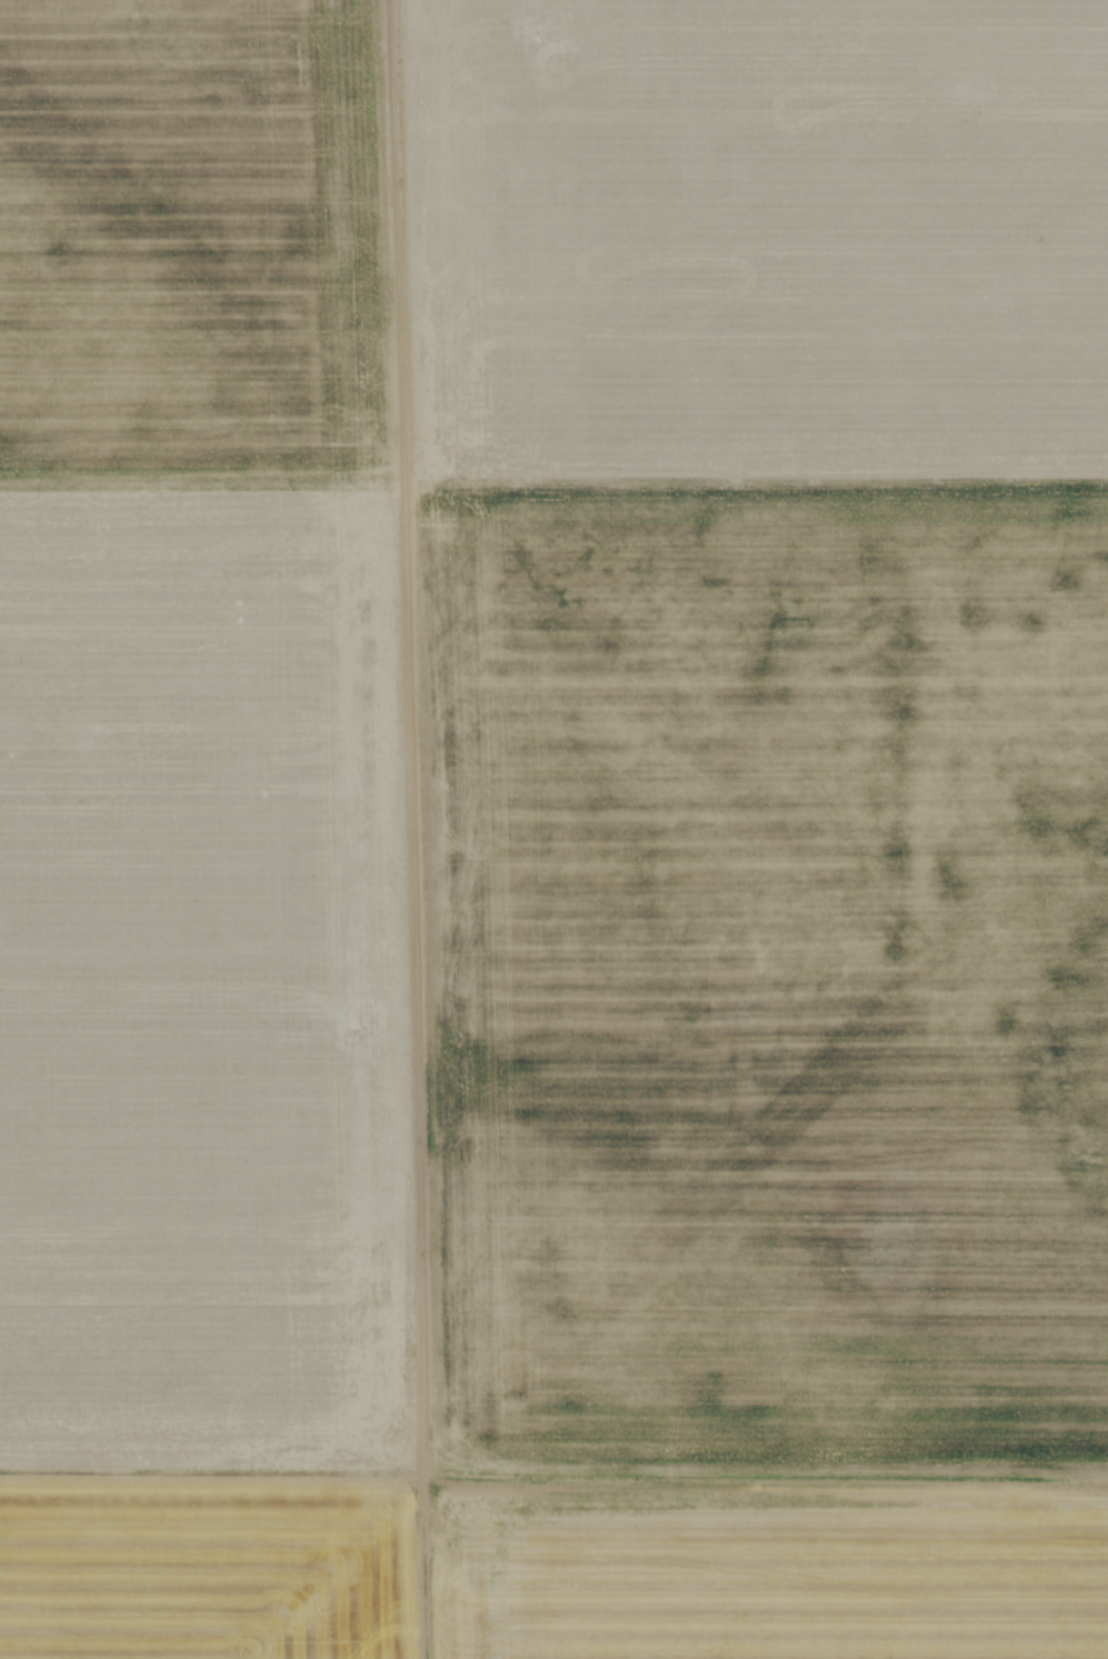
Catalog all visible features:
crop: (553, 829)

